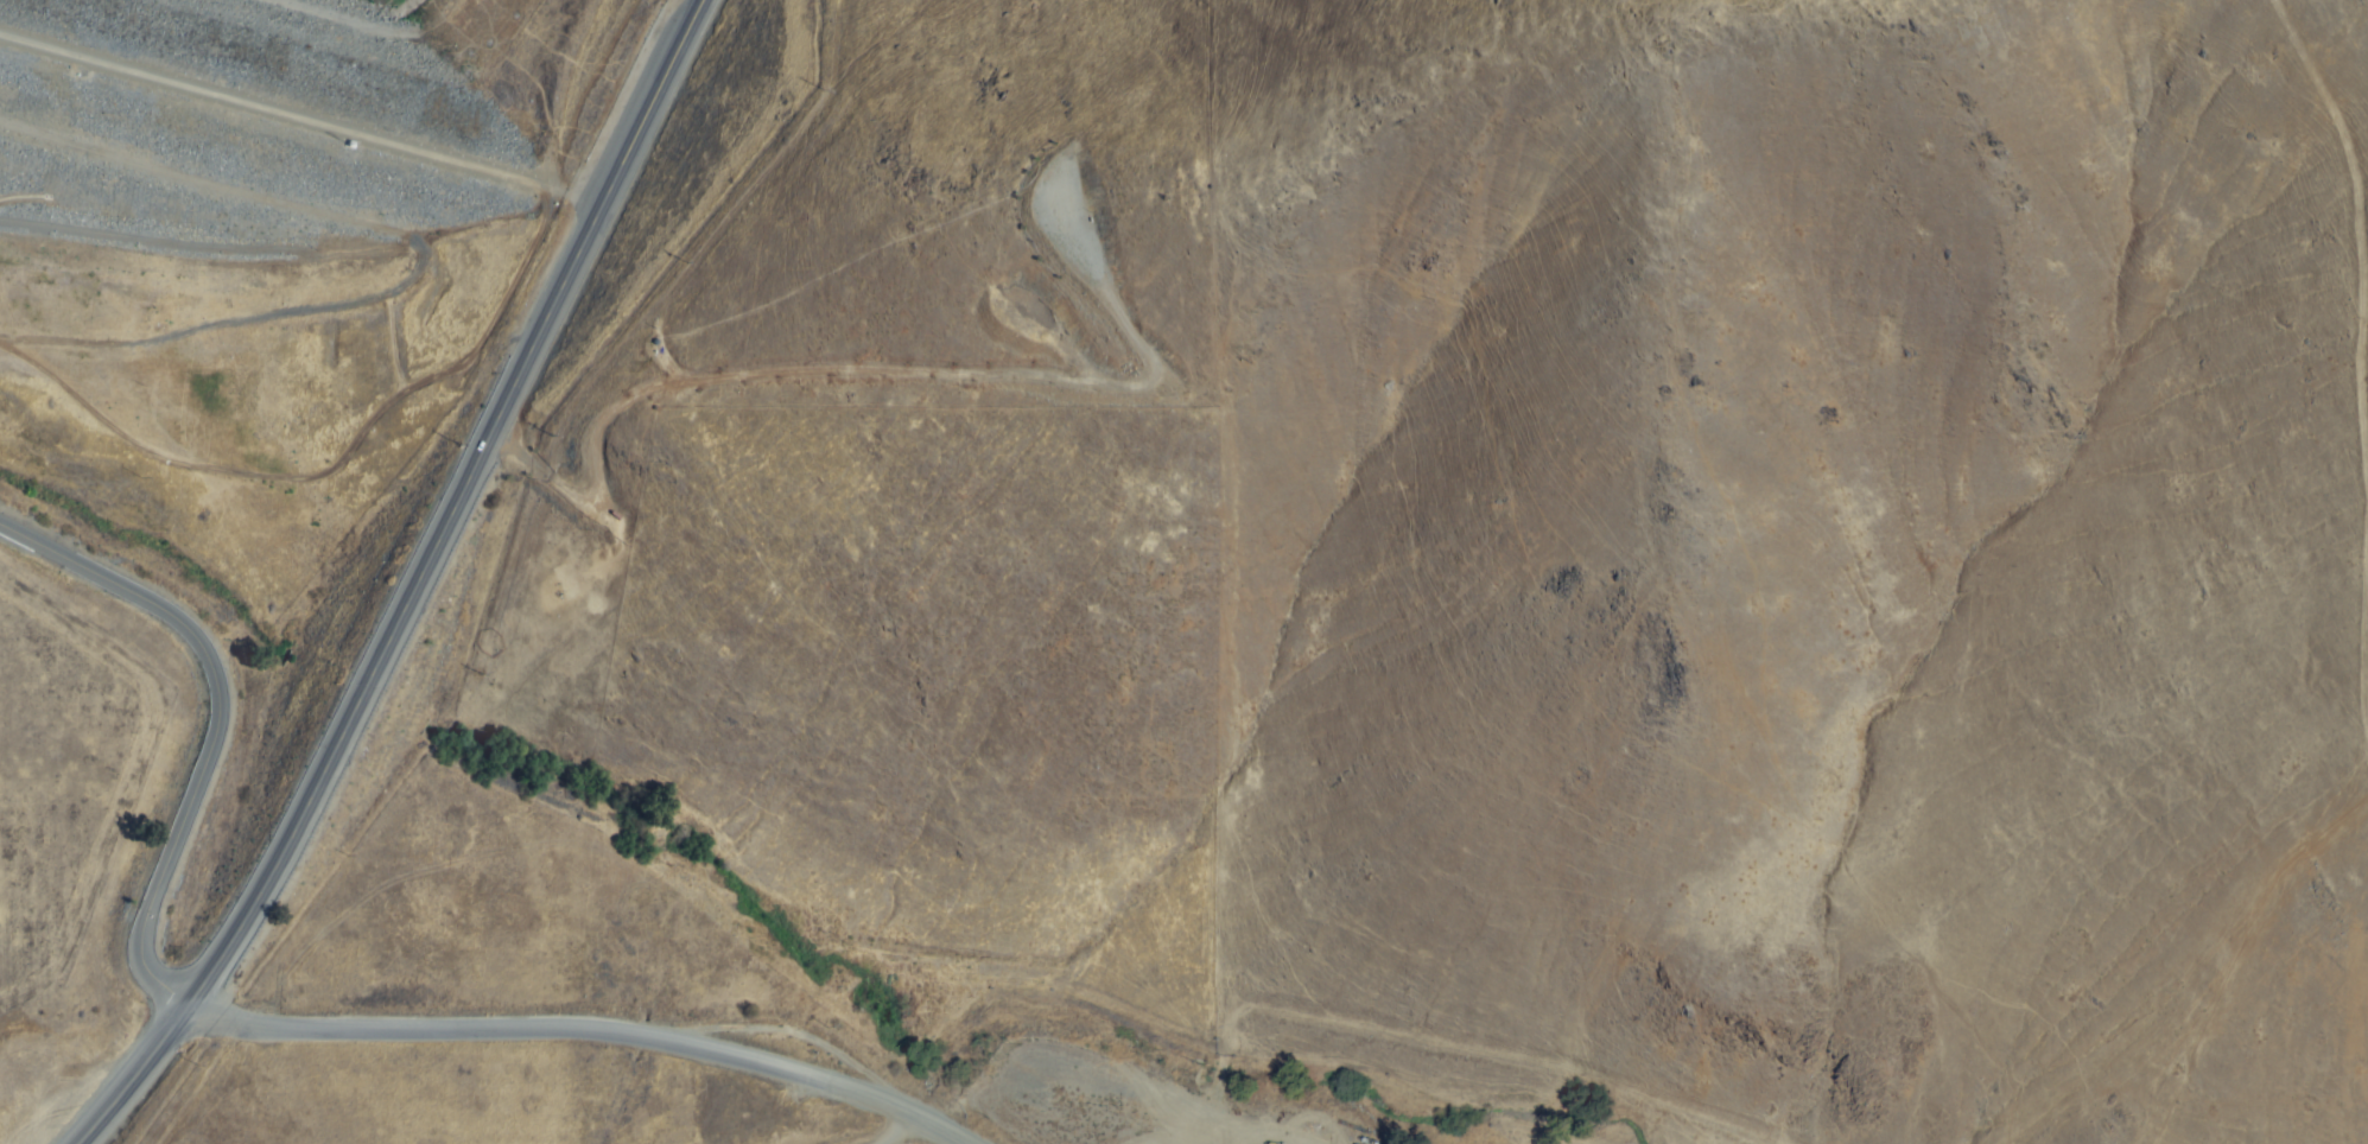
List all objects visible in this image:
road: (303, 115)
dam: (262, 147)
road: (417, 585)
park: (141, 610)
road: (214, 724)
crop: (55, 765)
road: (564, 1037)

